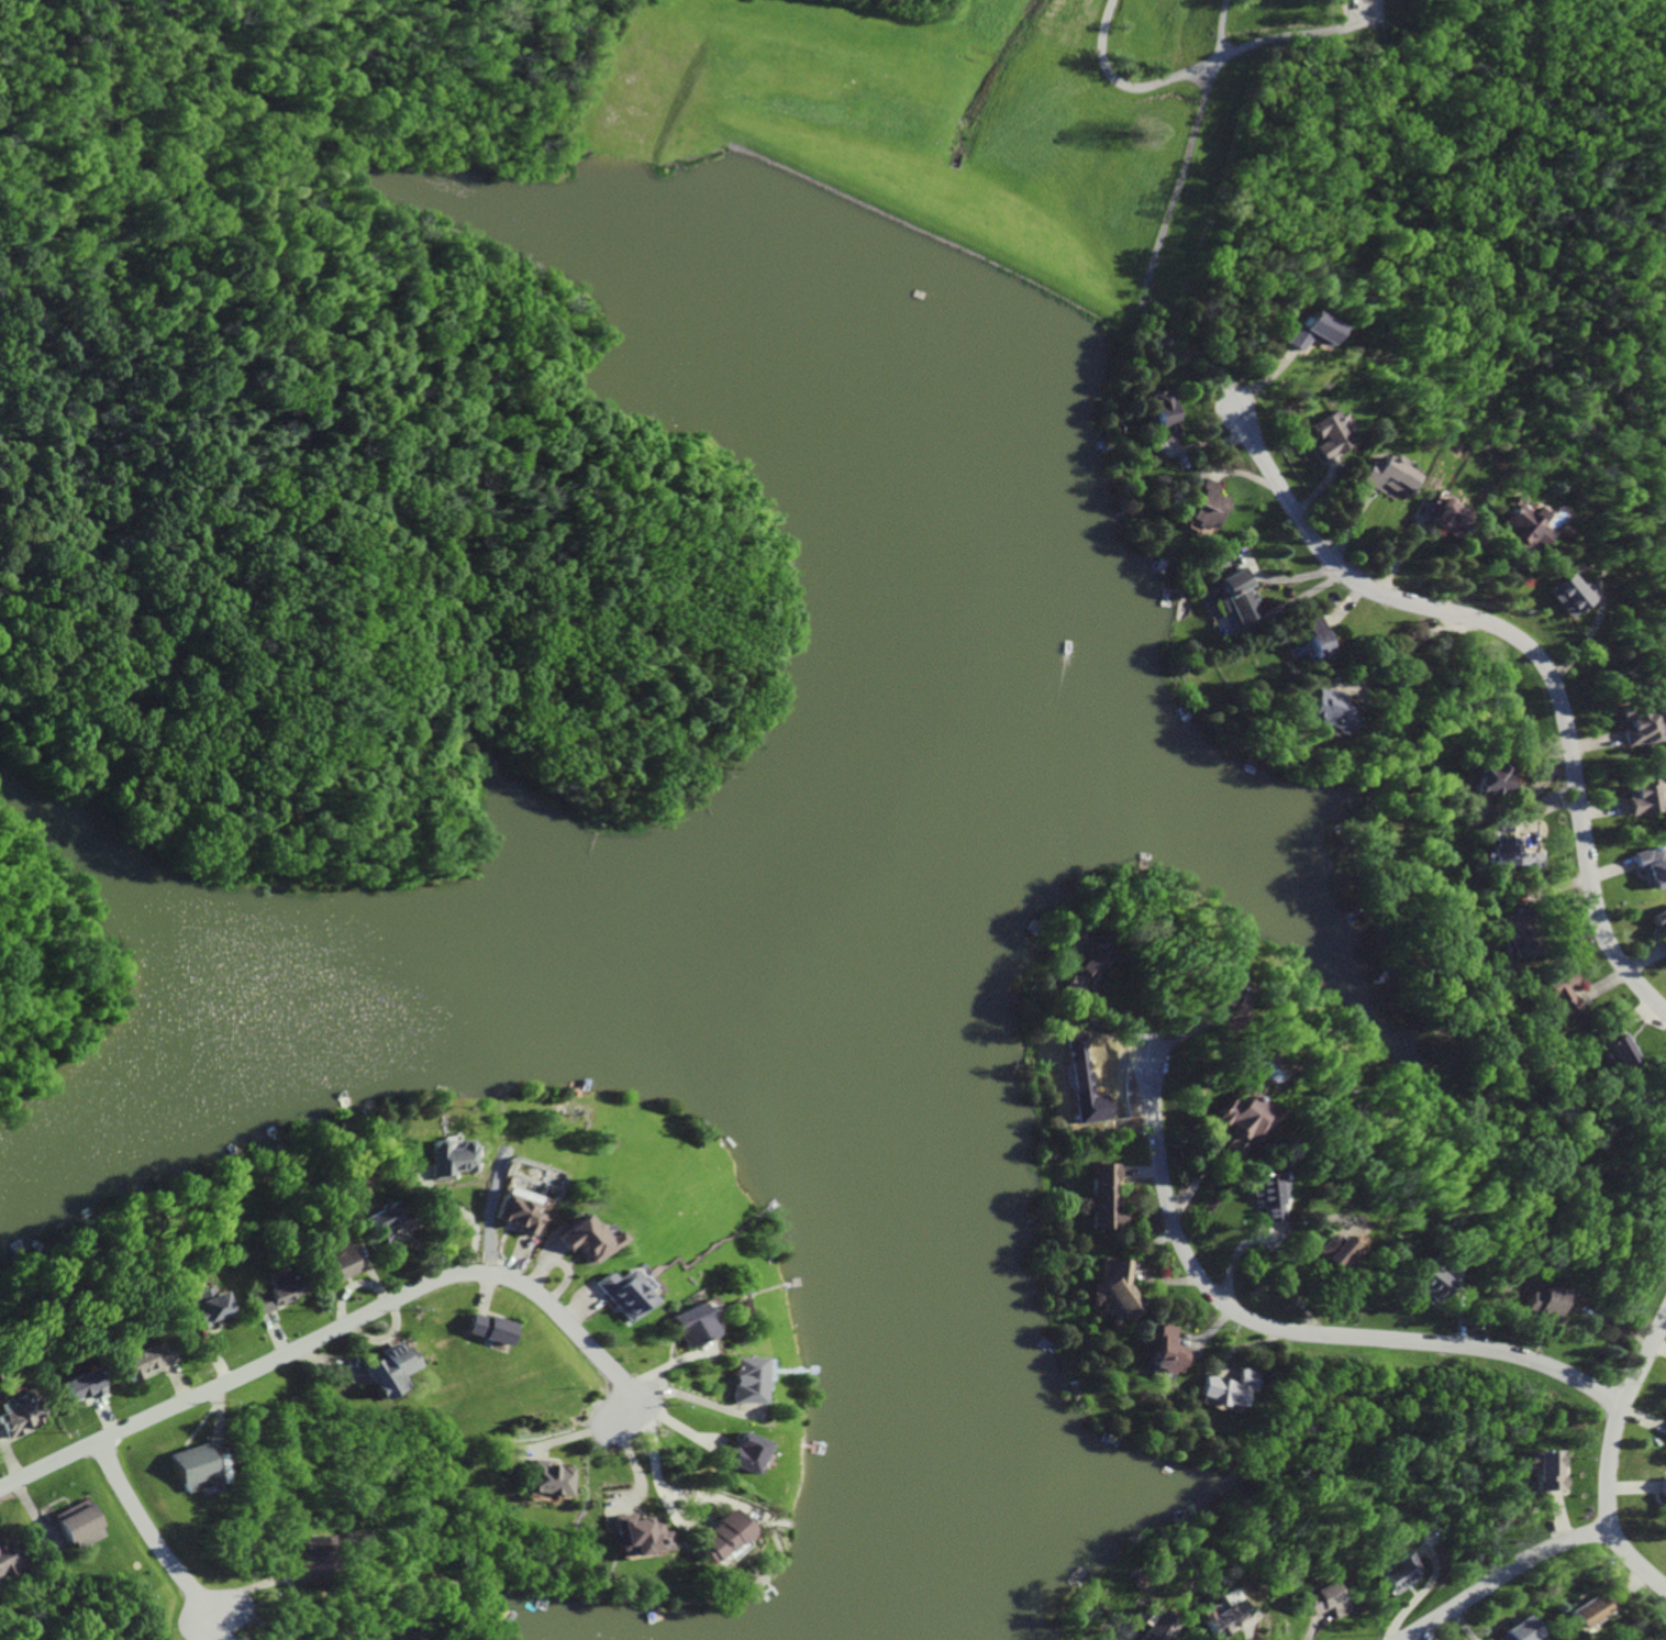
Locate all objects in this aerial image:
road: (1190, 71)
building: (1310, 332)
building: (1158, 414)
building: (1328, 435)
building: (1203, 506)
building: (1442, 517)
building: (1522, 527)
building: (1565, 594)
building: (1233, 595)
building: (1309, 635)
road: (1529, 650)
road: (1402, 652)
building: (1319, 709)
building: (1633, 724)
building: (1487, 778)
building: (1632, 796)
building: (1507, 855)
building: (1646, 867)
building: (1658, 927)
building: (1515, 935)
building: (1082, 967)
building: (1212, 989)
building: (1555, 991)
building: (1610, 1044)
building: (1081, 1084)
building: (1233, 1123)
building: (448, 1159)
building: (1104, 1196)
building: (1258, 1196)
building: (512, 1210)
road: (468, 1217)
building: (378, 1222)
building: (578, 1239)
building: (1325, 1252)
building: (331, 1264)
building: (1424, 1283)
building: (617, 1294)
building: (267, 1296)
building: (1539, 1303)
building: (200, 1308)
building: (679, 1325)
road: (329, 1328)
building: (482, 1329)
road: (1292, 1332)
building: (1162, 1352)
building: (142, 1360)
building: (379, 1370)
building: (736, 1381)
building: (77, 1385)
building: (1224, 1388)
building: (11, 1417)
building: (1663, 1432)
road: (585, 1438)
building: (733, 1453)
road: (625, 1455)
road: (649, 1455)
road: (1607, 1460)
building: (185, 1469)
building: (1543, 1471)
building: (542, 1480)
building: (1659, 1494)
building: (71, 1526)
road: (146, 1530)
building: (633, 1536)
building: (714, 1537)
building: (4, 1556)
building: (302, 1561)
building: (1399, 1573)
road: (1498, 1576)
building: (1320, 1599)
building: (1578, 1611)
building: (1221, 1615)
road: (252, 1618)
building: (1156, 1627)
building: (1511, 1632)
building: (401, 1635)

